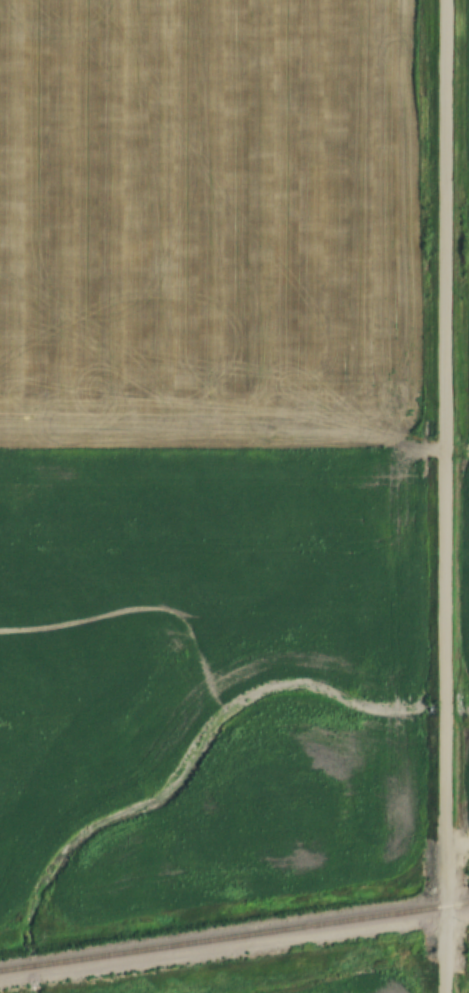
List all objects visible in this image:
road: (448, 496)
railway: (234, 936)

